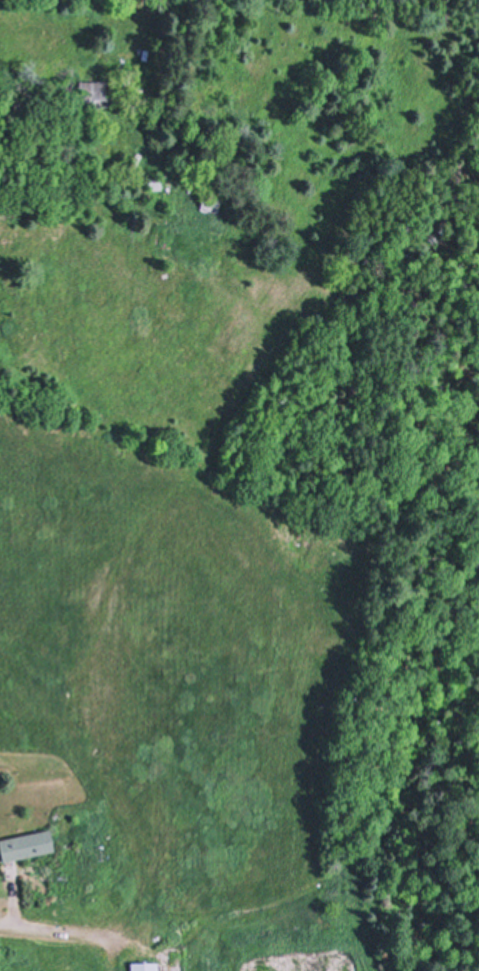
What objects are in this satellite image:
building: (99, 91)
building: (157, 182)
building: (152, 187)
building: (214, 199)
building: (29, 844)
building: (101, 852)
road: (44, 926)
building: (146, 966)

